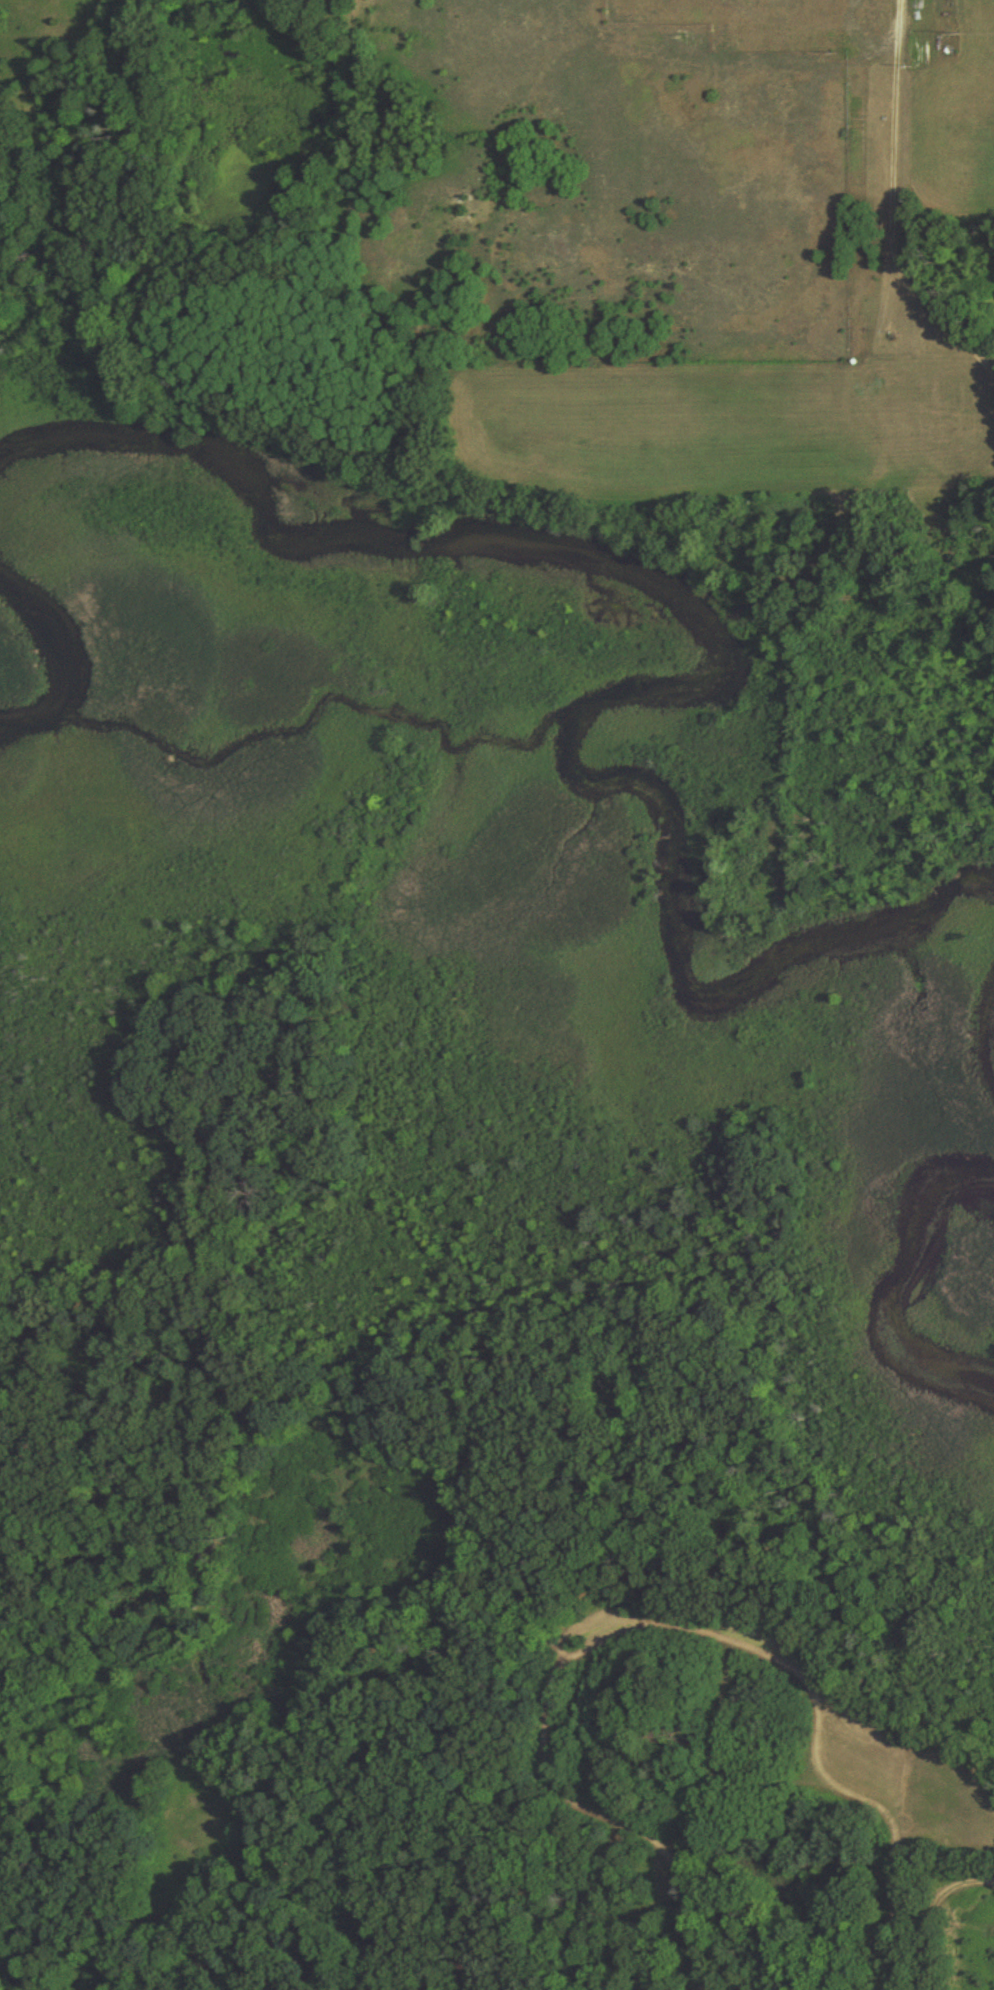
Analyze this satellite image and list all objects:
road: (914, 185)
road: (179, 1287)
road: (94, 1910)
road: (925, 1937)

